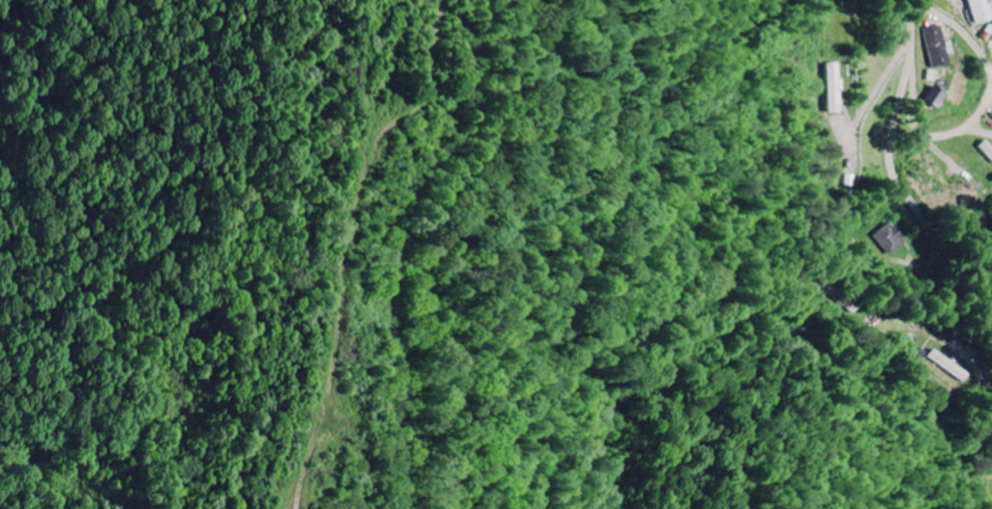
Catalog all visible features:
building: (978, 11)
road: (956, 28)
building: (936, 48)
building: (835, 89)
building: (991, 116)
building: (986, 150)
road: (894, 162)
building: (889, 239)
building: (947, 364)

